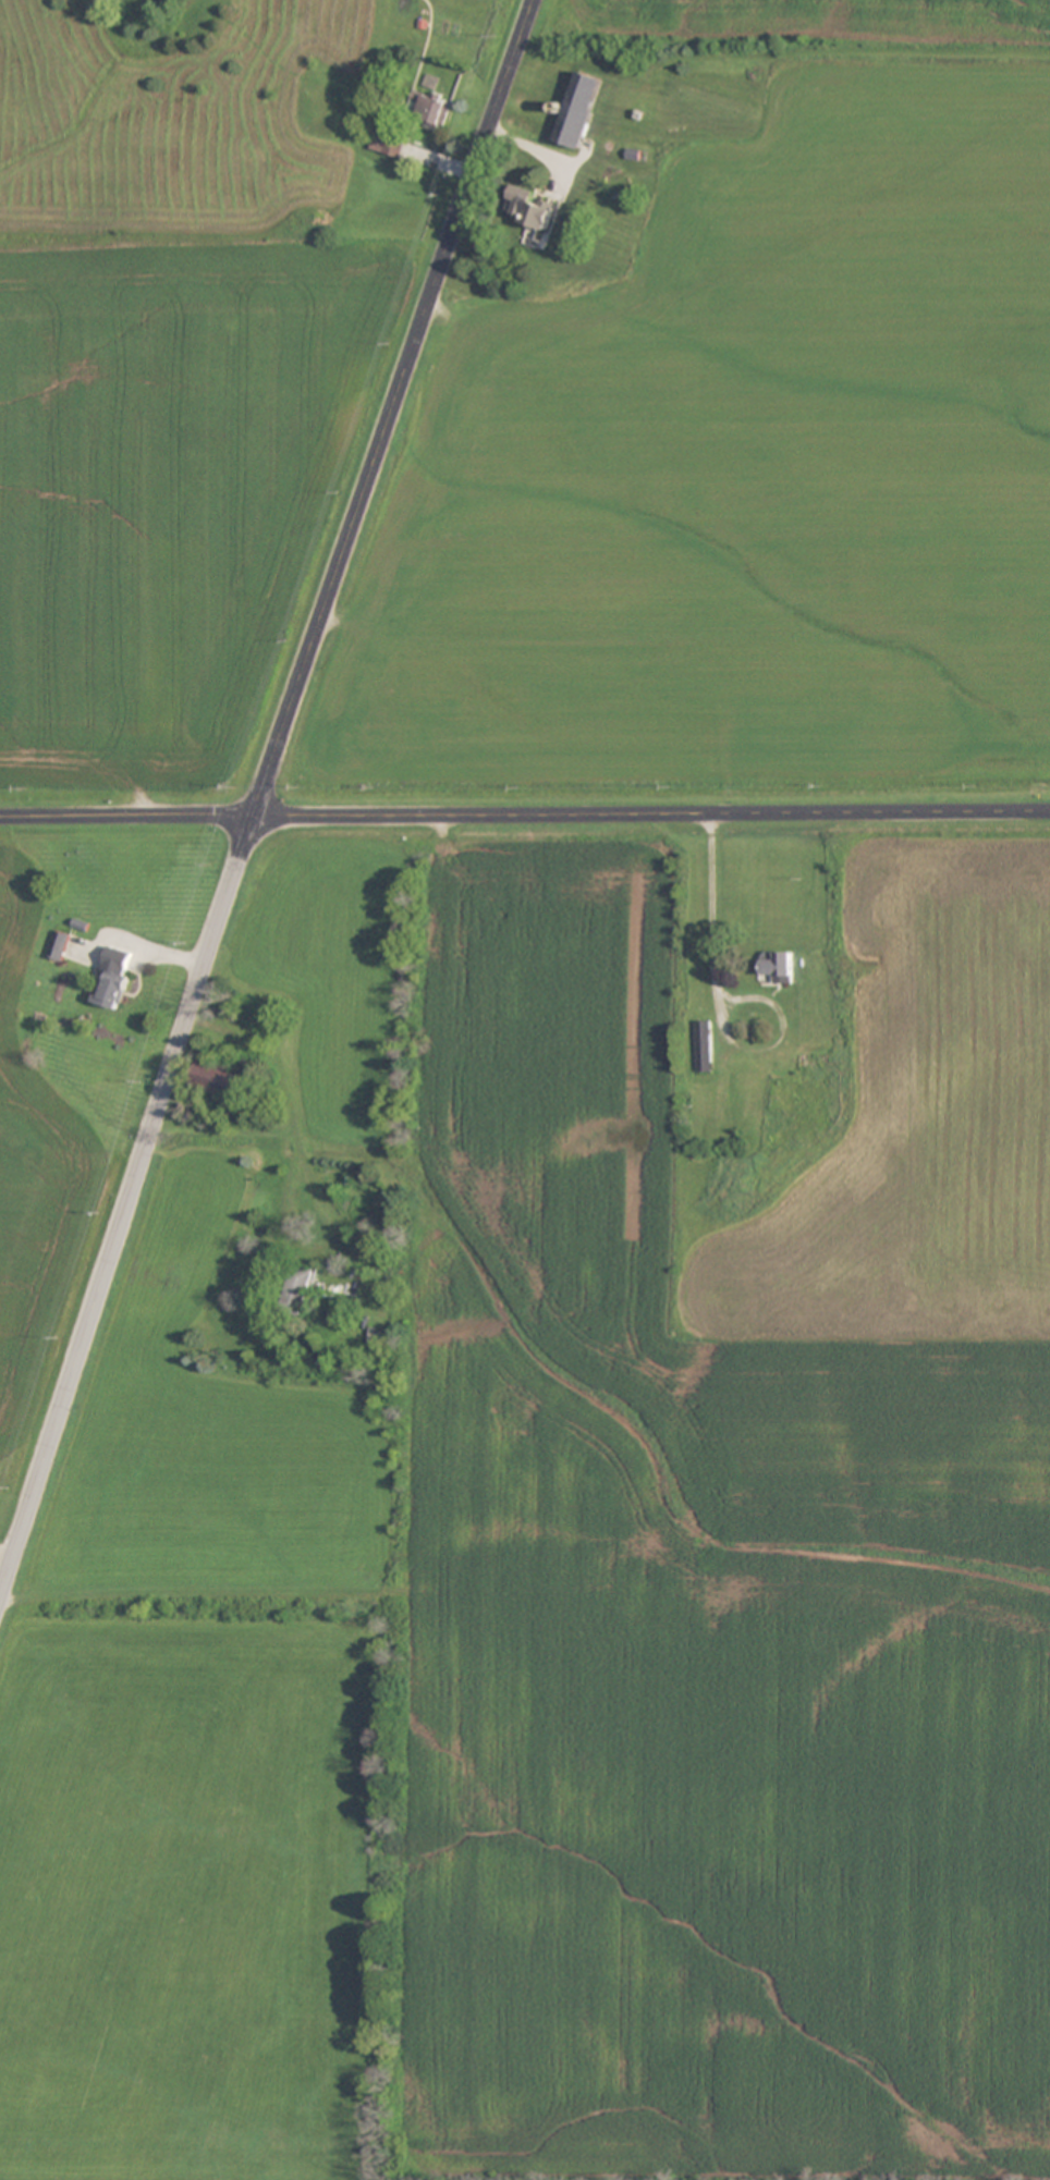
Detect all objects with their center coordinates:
building: (430, 108)
building: (581, 109)
building: (388, 138)
building: (532, 216)
road: (259, 793)
road: (525, 810)
building: (779, 966)
building: (113, 977)
building: (703, 1052)
building: (808, 1060)
building: (220, 1078)
building: (298, 1289)

